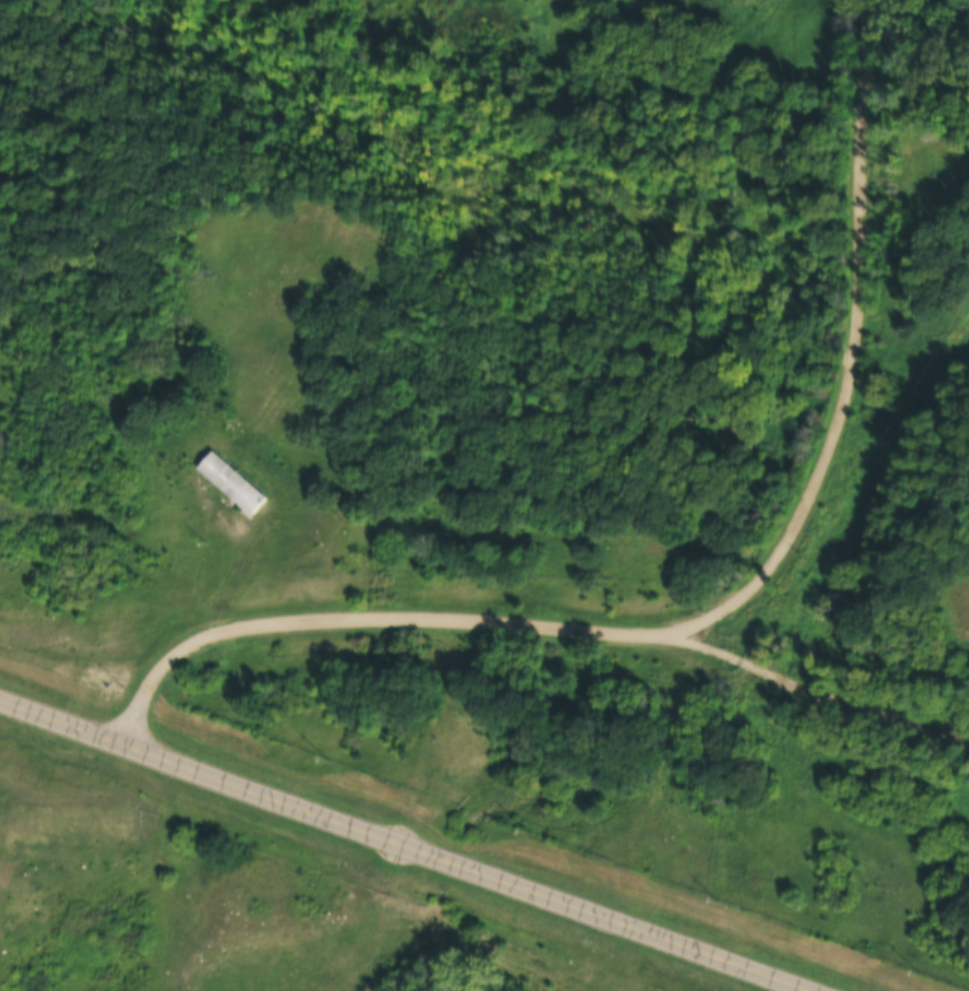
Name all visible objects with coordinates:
building: (229, 483)
road: (714, 610)
road: (820, 687)
road: (409, 843)

